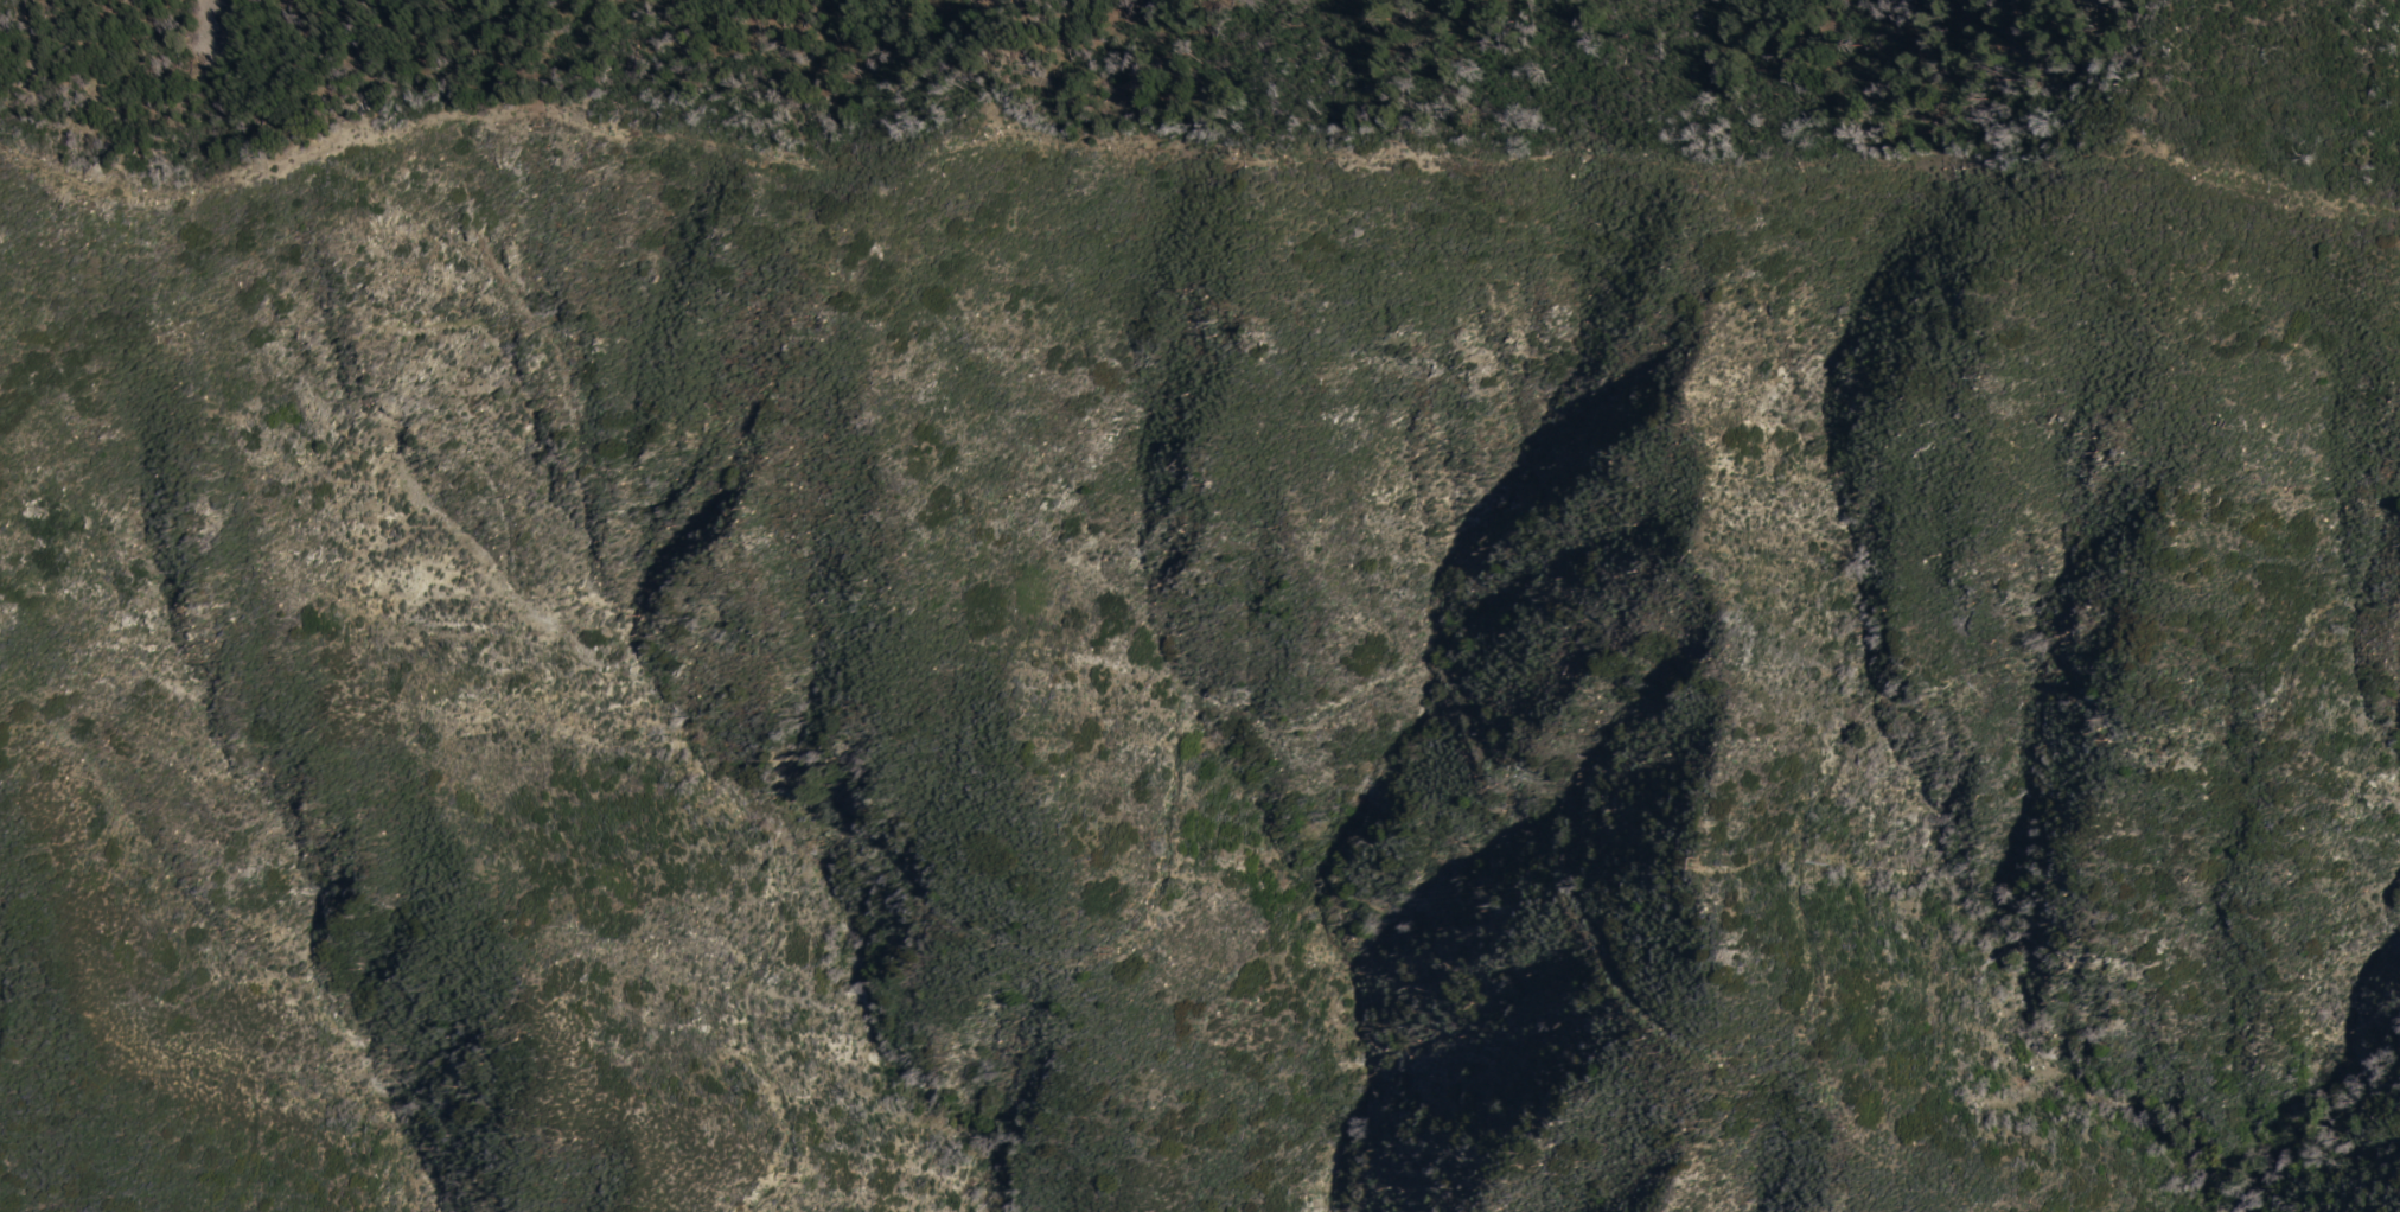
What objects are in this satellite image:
road: (1565, 791)

